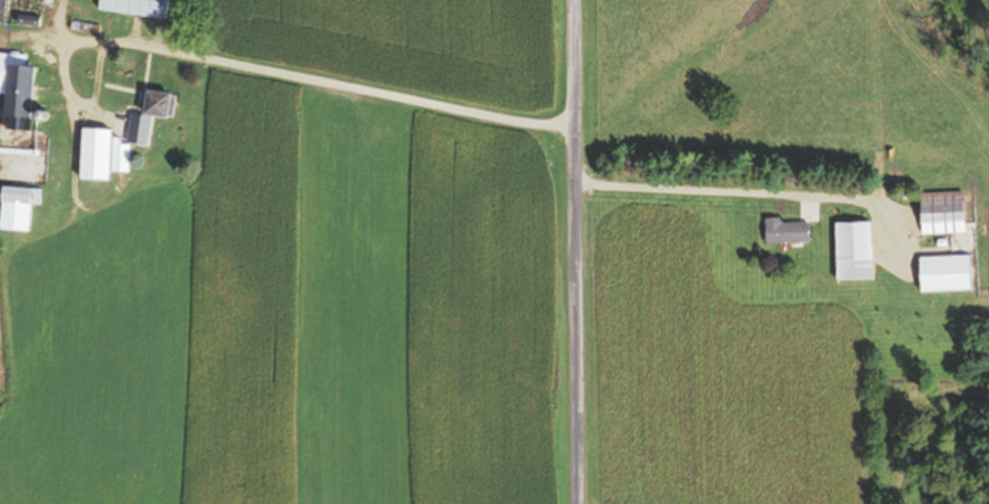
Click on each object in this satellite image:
building: (136, 7)
building: (3, 10)
road: (350, 85)
building: (17, 91)
building: (150, 116)
building: (95, 155)
building: (17, 208)
building: (943, 212)
building: (787, 231)
road: (574, 251)
building: (853, 251)
building: (945, 274)

